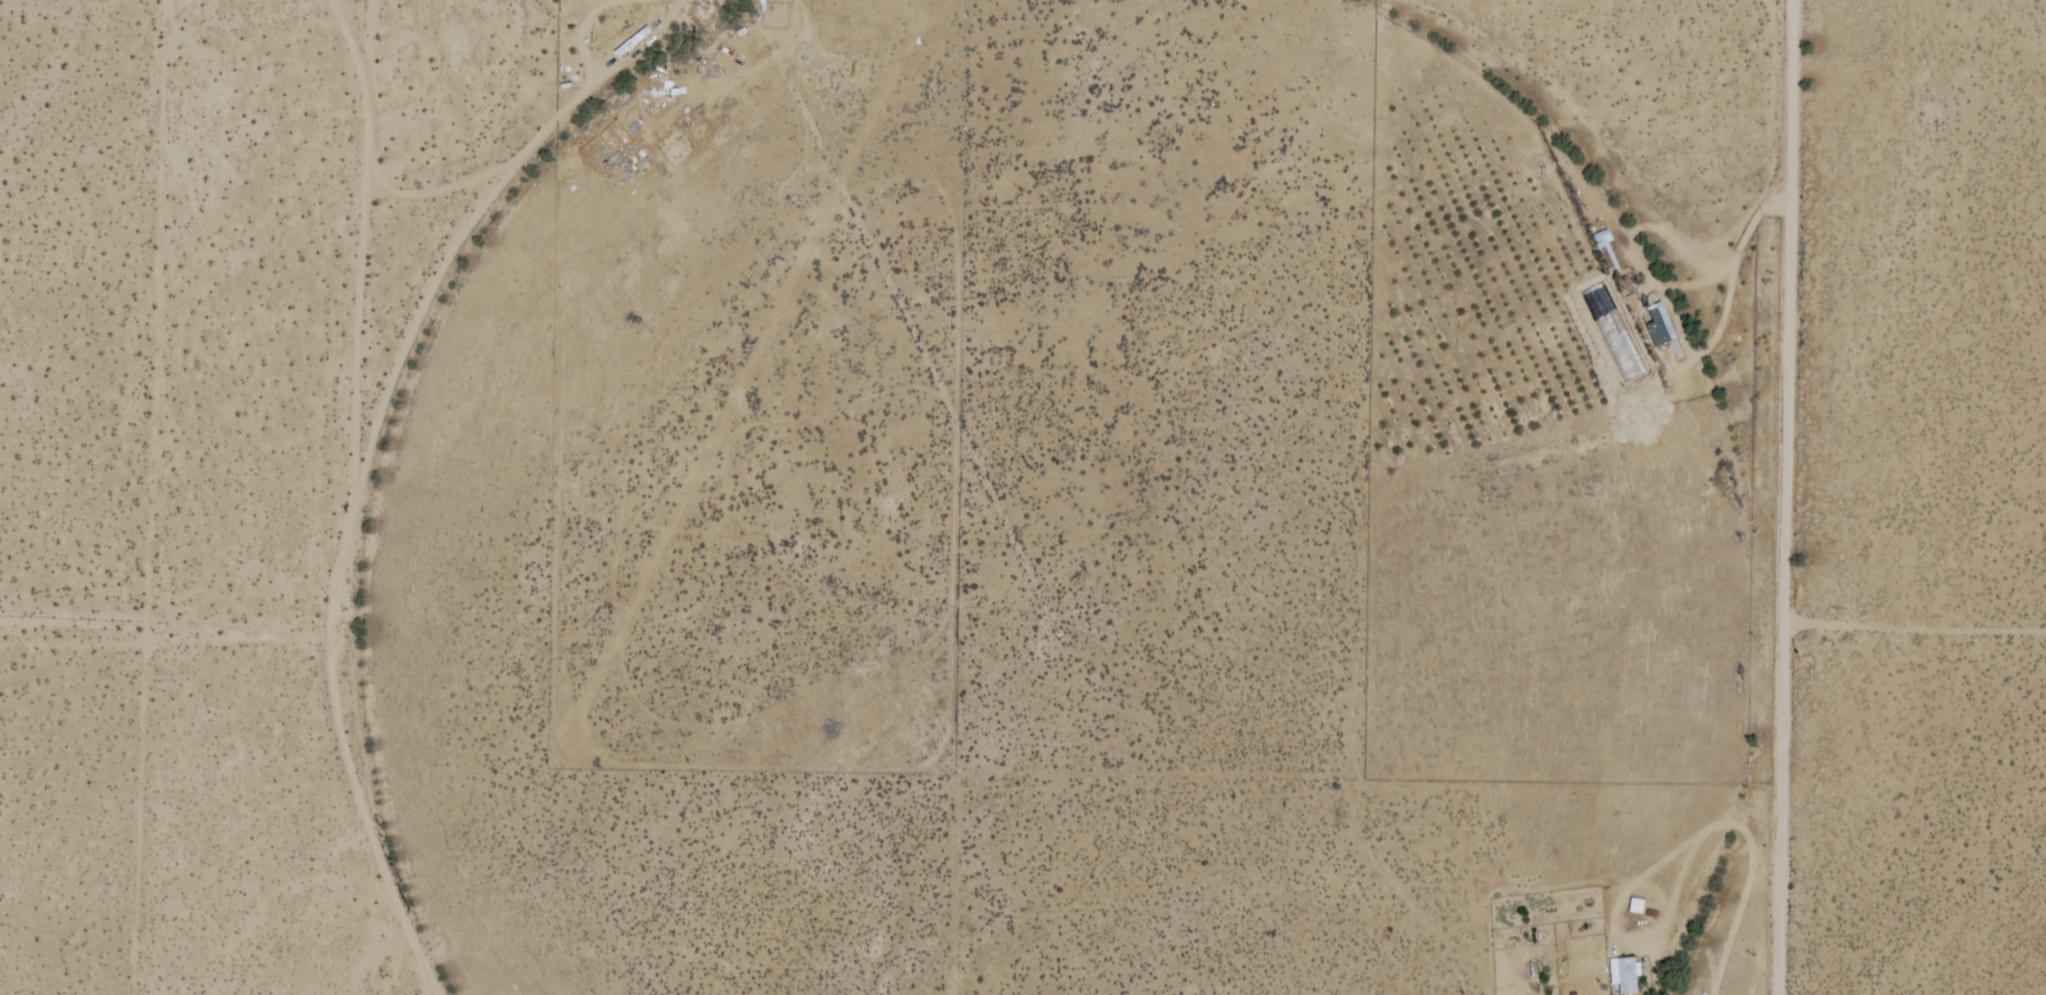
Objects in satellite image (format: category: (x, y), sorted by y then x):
crop: (1500, 280)
road: (1781, 497)

